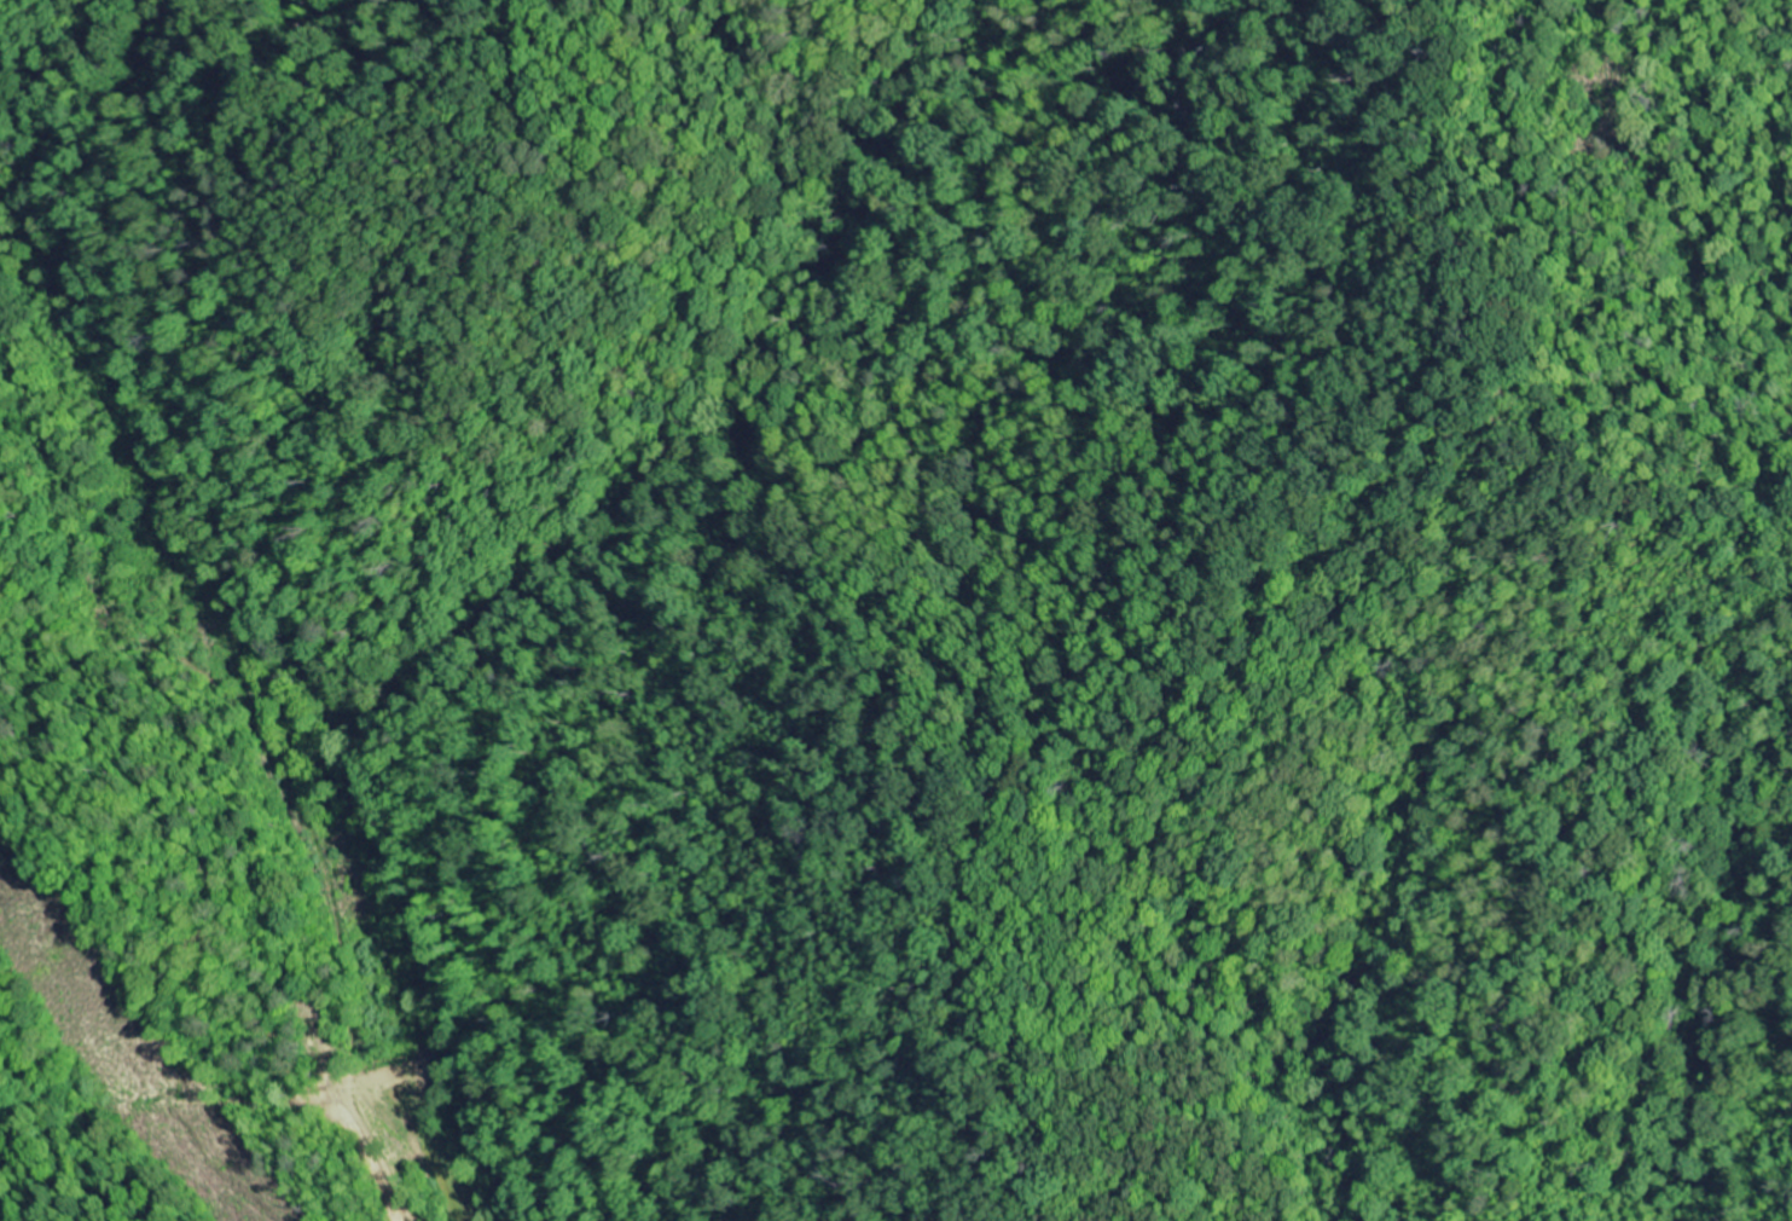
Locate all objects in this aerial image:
road: (250, 752)

